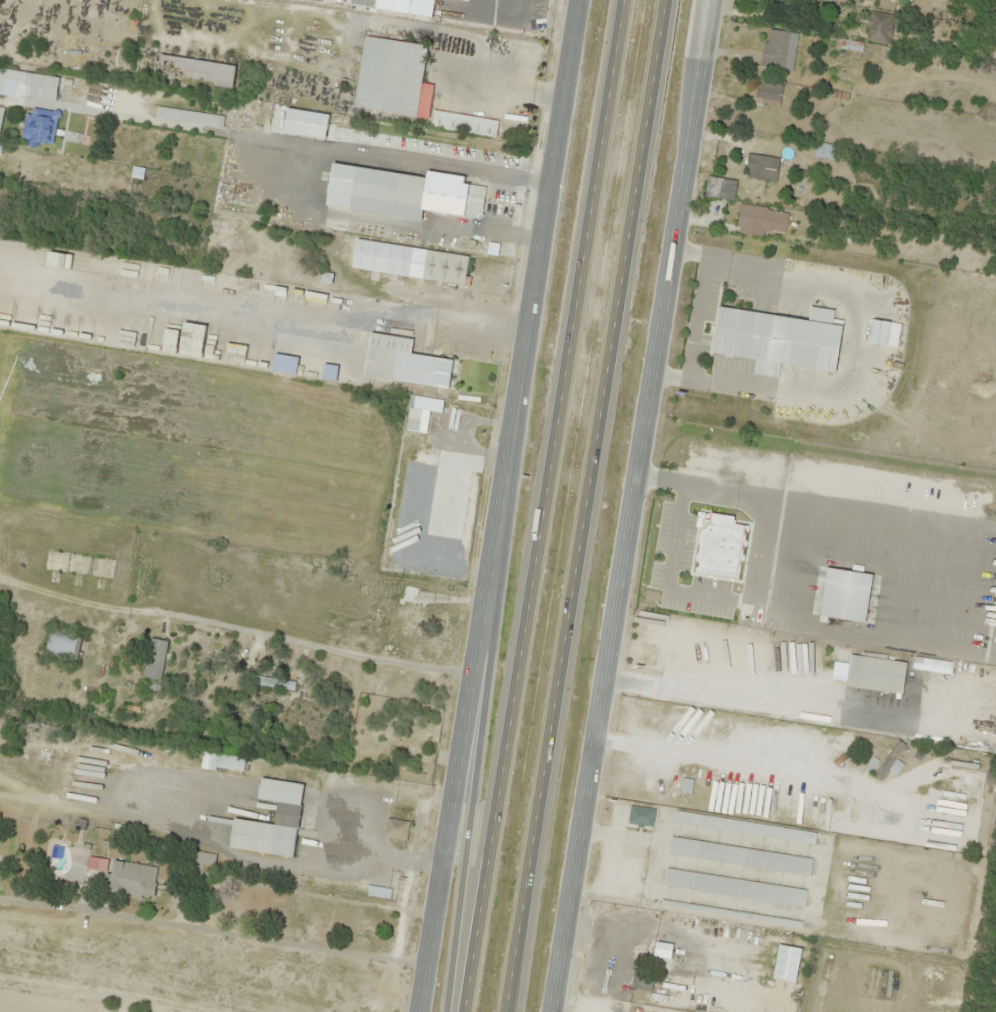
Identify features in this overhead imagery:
building: (878, 27)
building: (779, 49)
building: (201, 70)
building: (393, 78)
building: (28, 85)
building: (768, 94)
building: (1, 117)
building: (464, 123)
building: (40, 125)
building: (826, 151)
building: (762, 168)
building: (722, 188)
building: (403, 193)
building: (760, 221)
building: (443, 266)
building: (880, 332)
building: (126, 339)
building: (780, 339)
building: (404, 362)
building: (285, 364)
building: (329, 372)
building: (424, 415)
building: (434, 477)
road: (593, 491)
road: (501, 505)
road: (633, 505)
road: (546, 506)
building: (727, 557)
building: (78, 564)
building: (407, 611)
building: (61, 645)
building: (155, 659)
building: (800, 663)
building: (876, 674)
road: (486, 726)
building: (890, 762)
building: (687, 786)
building: (288, 810)
building: (640, 816)
building: (396, 828)
building: (740, 856)
building: (133, 879)
building: (735, 887)
building: (642, 979)
road: (511, 997)
road: (512, 997)
building: (735, 1011)

